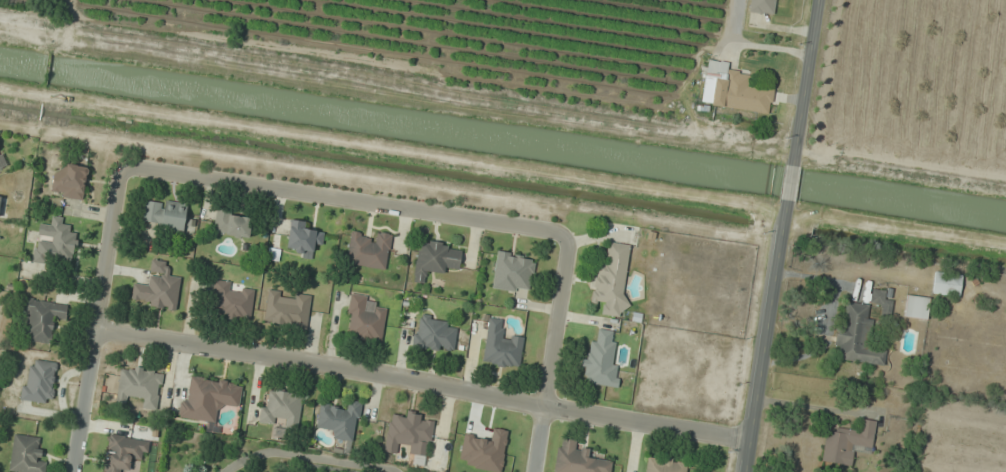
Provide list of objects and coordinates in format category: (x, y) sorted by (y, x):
building: (762, 6)
building: (733, 89)
river: (503, 137)
building: (2, 162)
building: (69, 182)
building: (0, 196)
road: (345, 198)
building: (165, 214)
building: (232, 224)
road: (782, 236)
building: (303, 238)
building: (54, 242)
building: (368, 249)
building: (435, 258)
building: (513, 272)
building: (611, 279)
building: (946, 283)
building: (158, 287)
building: (877, 296)
building: (231, 301)
building: (916, 307)
building: (287, 309)
road: (96, 317)
building: (43, 318)
building: (364, 320)
building: (433, 334)
building: (857, 336)
building: (501, 346)
road: (553, 353)
building: (601, 360)
building: (39, 382)
building: (140, 385)
road: (421, 389)
building: (208, 398)
building: (280, 407)
building: (340, 420)
building: (409, 433)
building: (847, 442)
building: (123, 453)
building: (26, 454)
building: (577, 458)
building: (664, 464)

